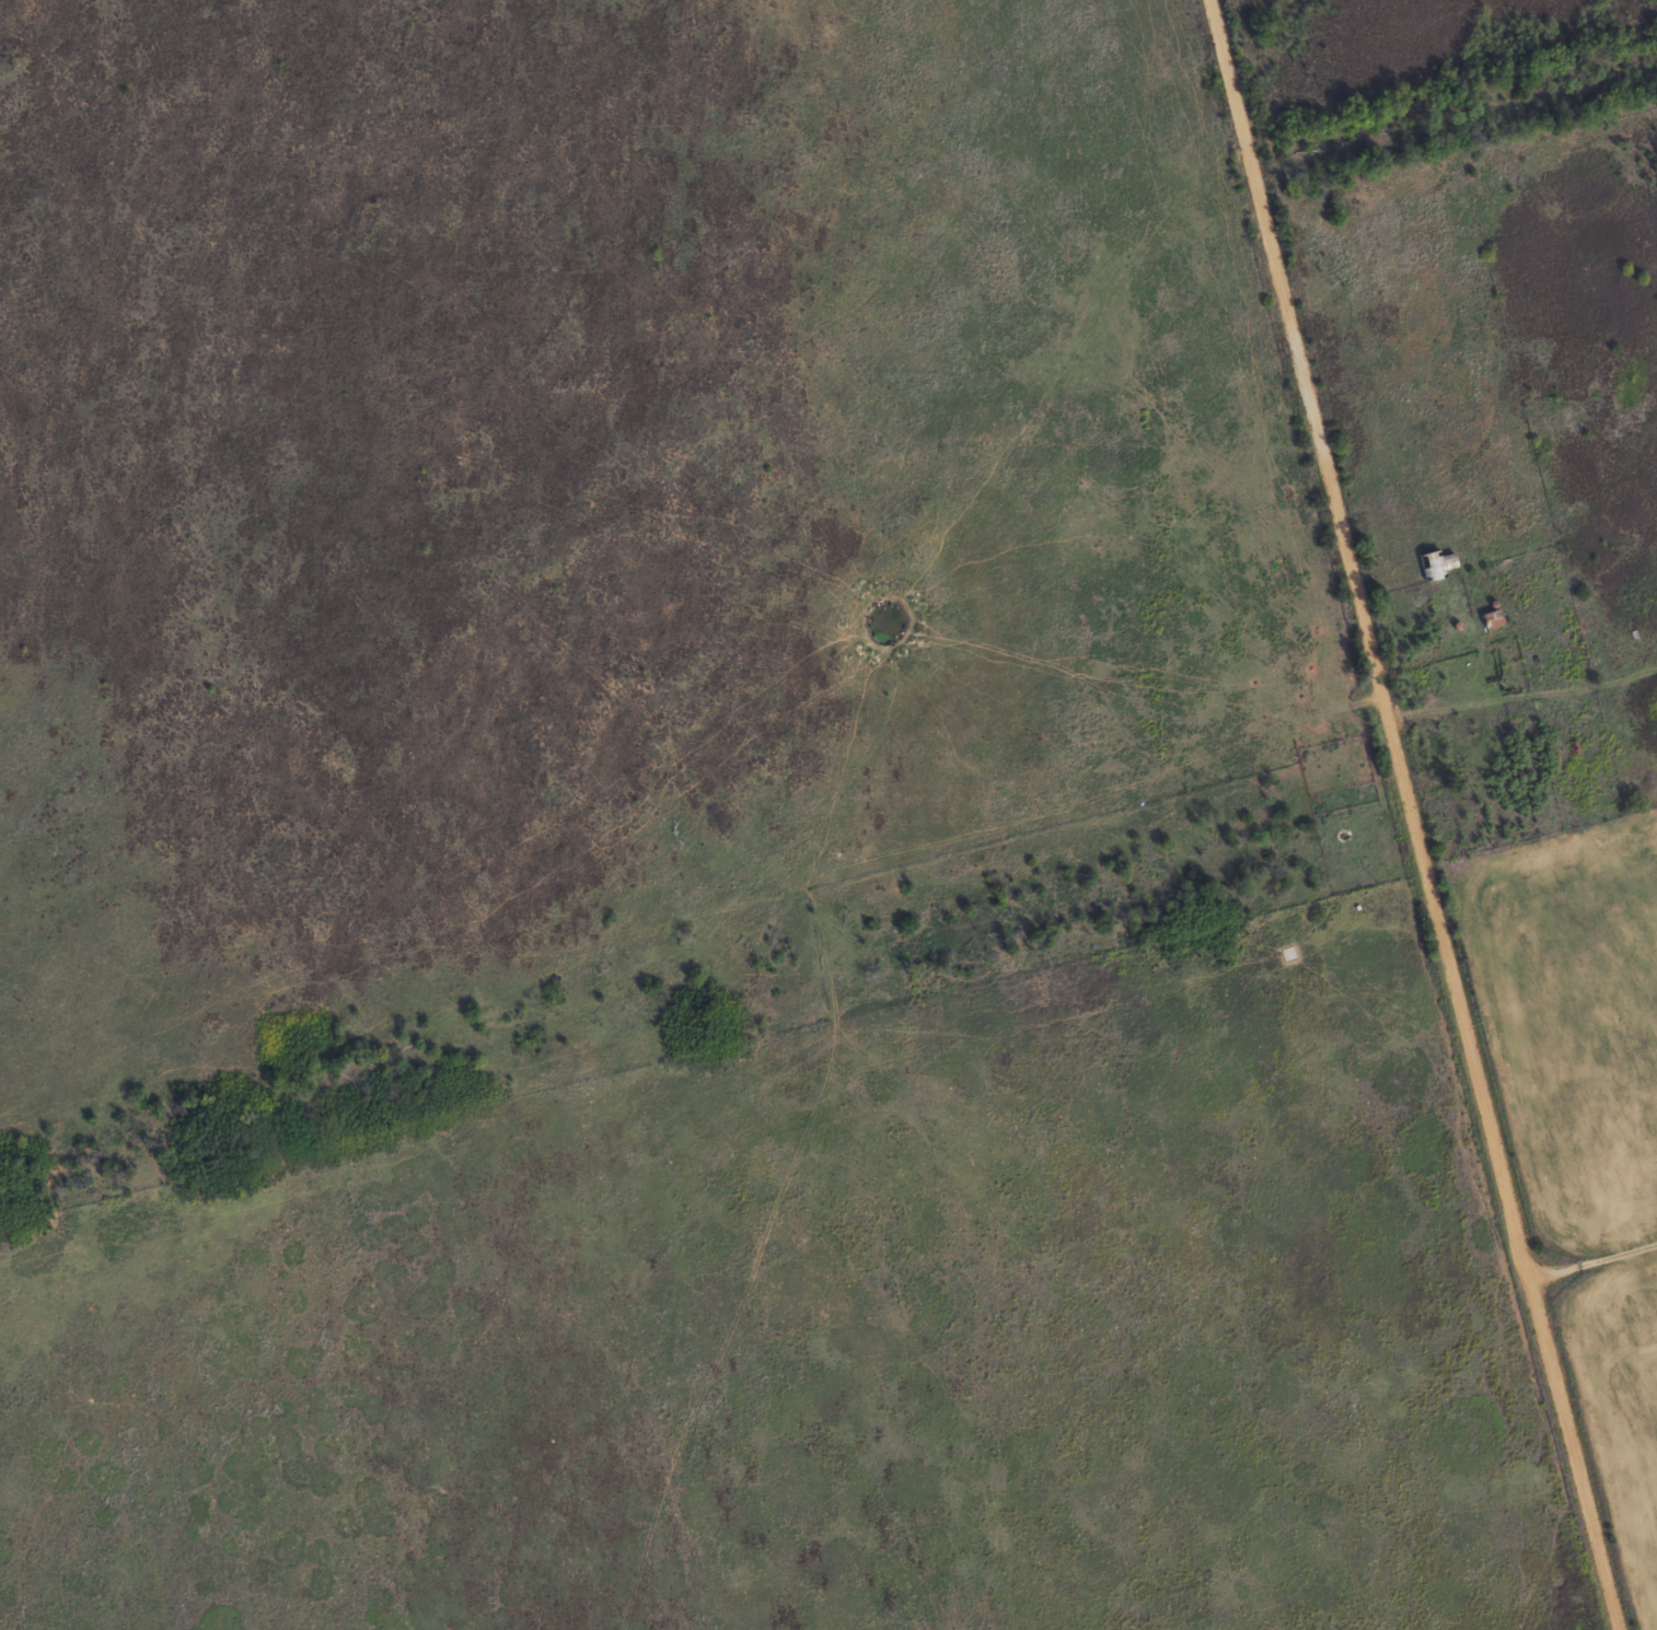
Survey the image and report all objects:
building: (1433, 563)
building: (1487, 617)
road: (1406, 815)
road: (1590, 1260)

